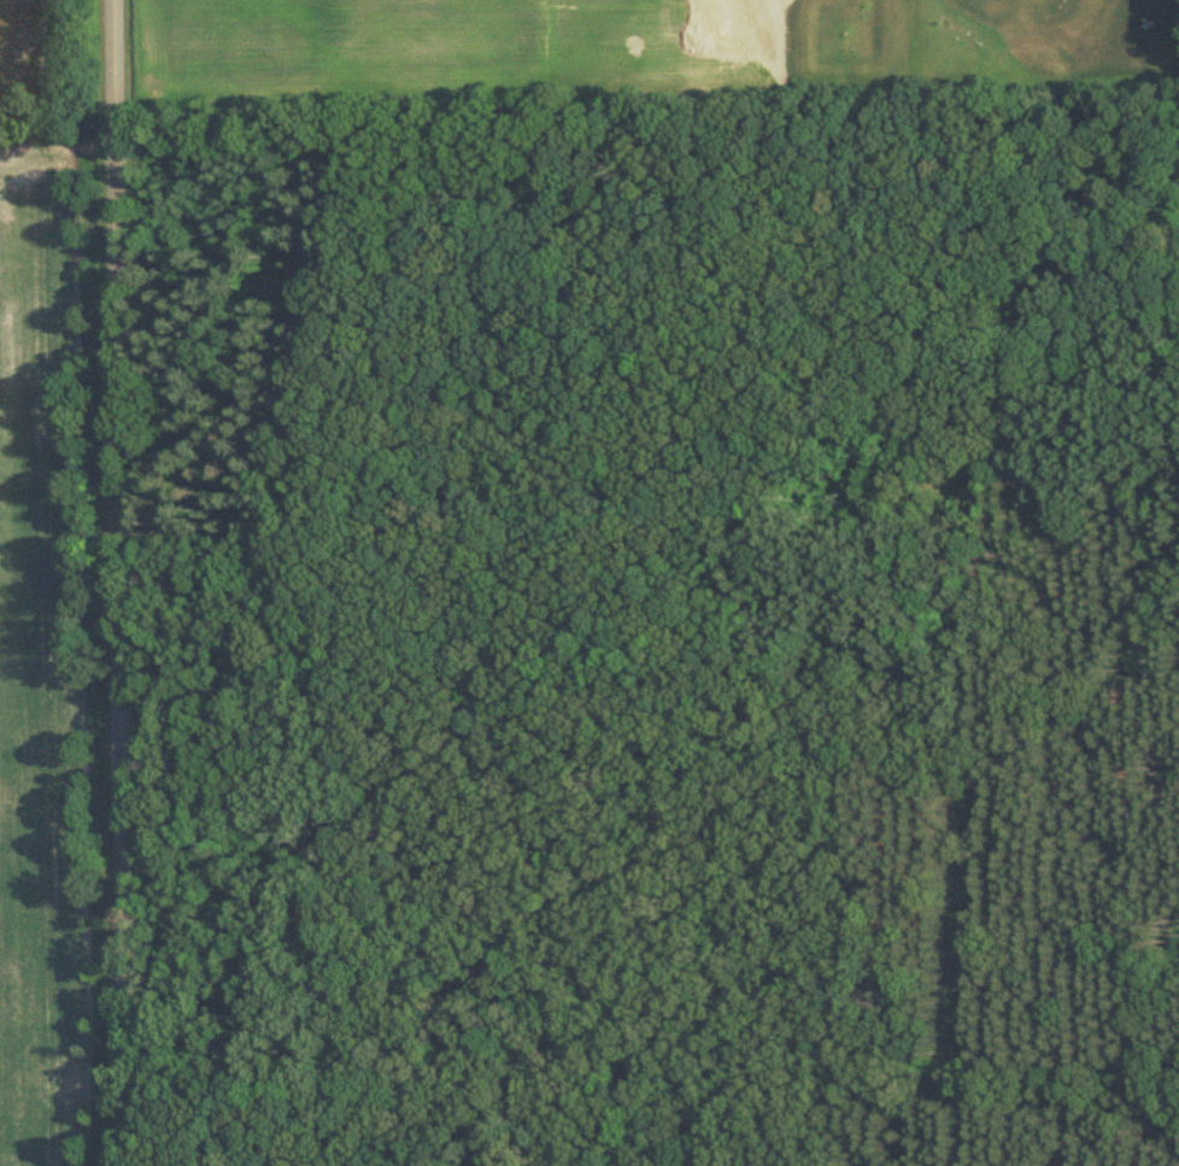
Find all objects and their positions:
road: (119, 582)

